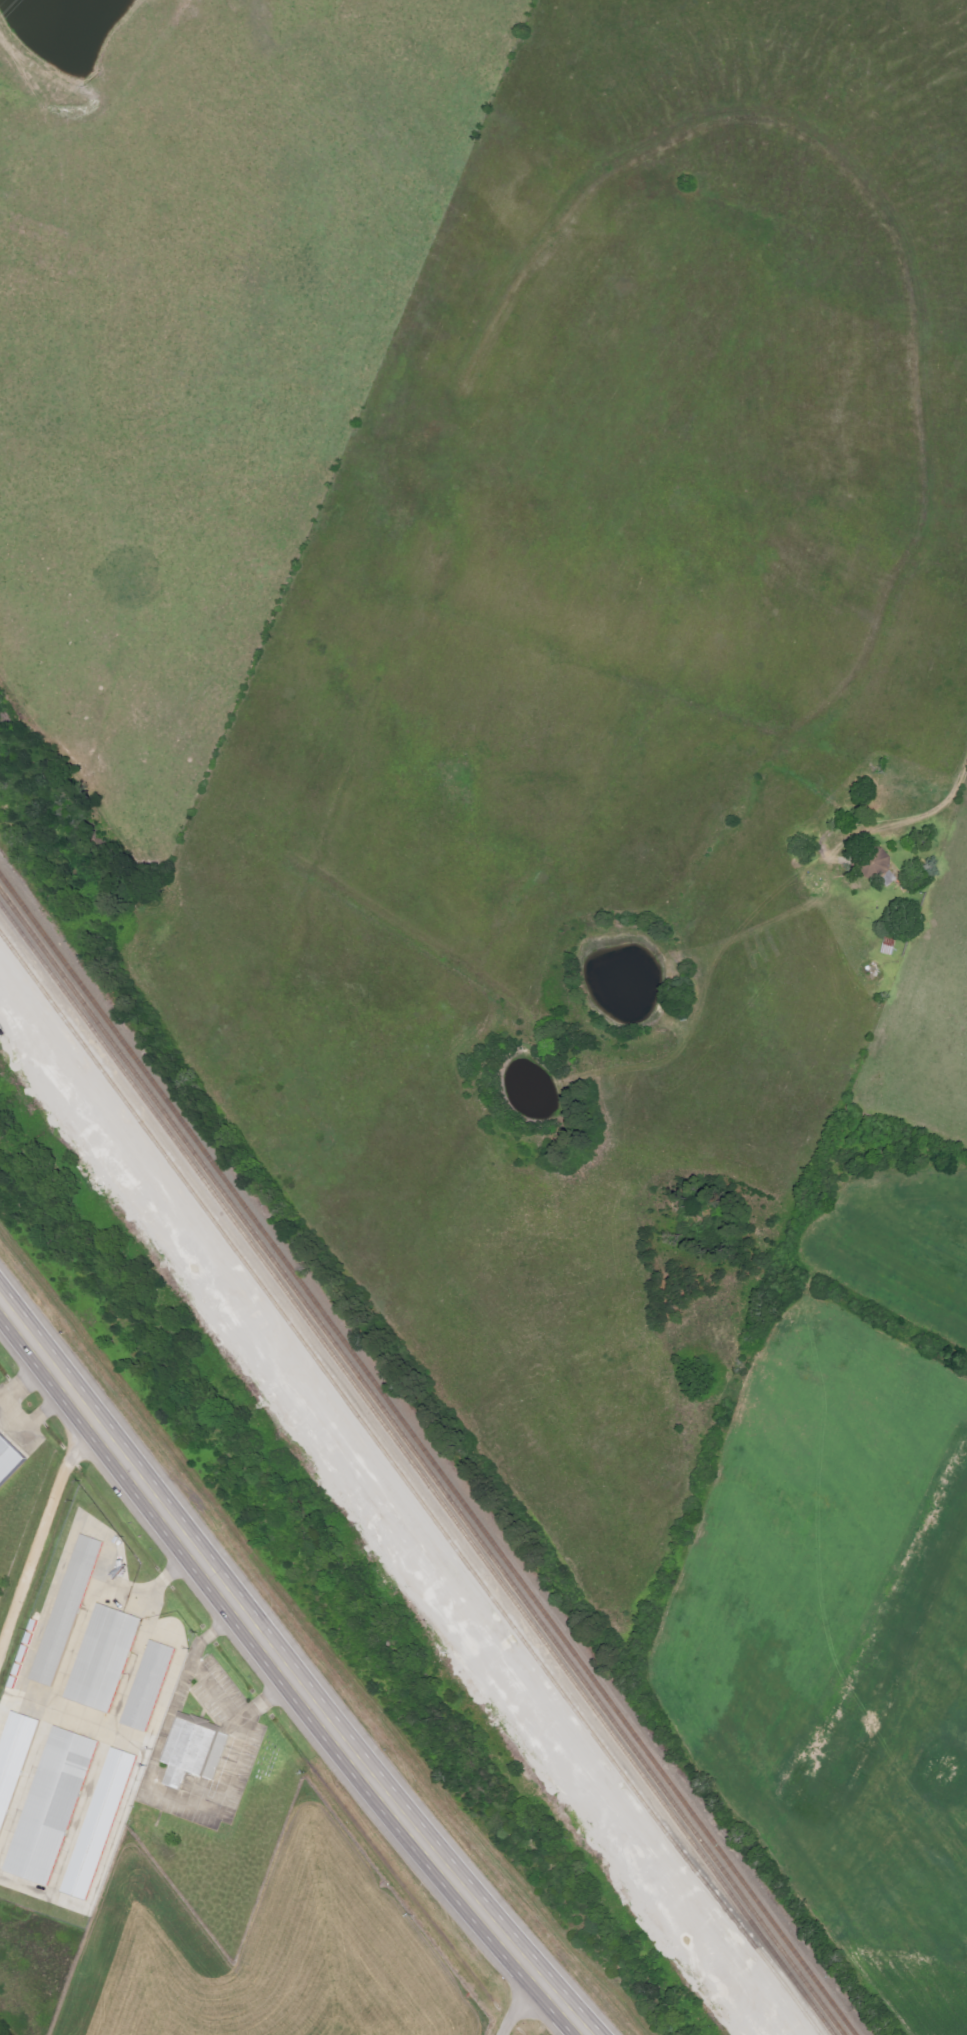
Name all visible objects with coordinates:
building: (876, 864)
railway: (423, 1458)
building: (8, 1460)
railway: (417, 1464)
railway: (414, 1471)
railway: (404, 1487)
road: (41, 1540)
building: (66, 1612)
building: (103, 1659)
road: (280, 1681)
building: (148, 1687)
building: (193, 1750)
building: (13, 1760)
building: (51, 1807)
building: (99, 1825)
road: (510, 2007)

